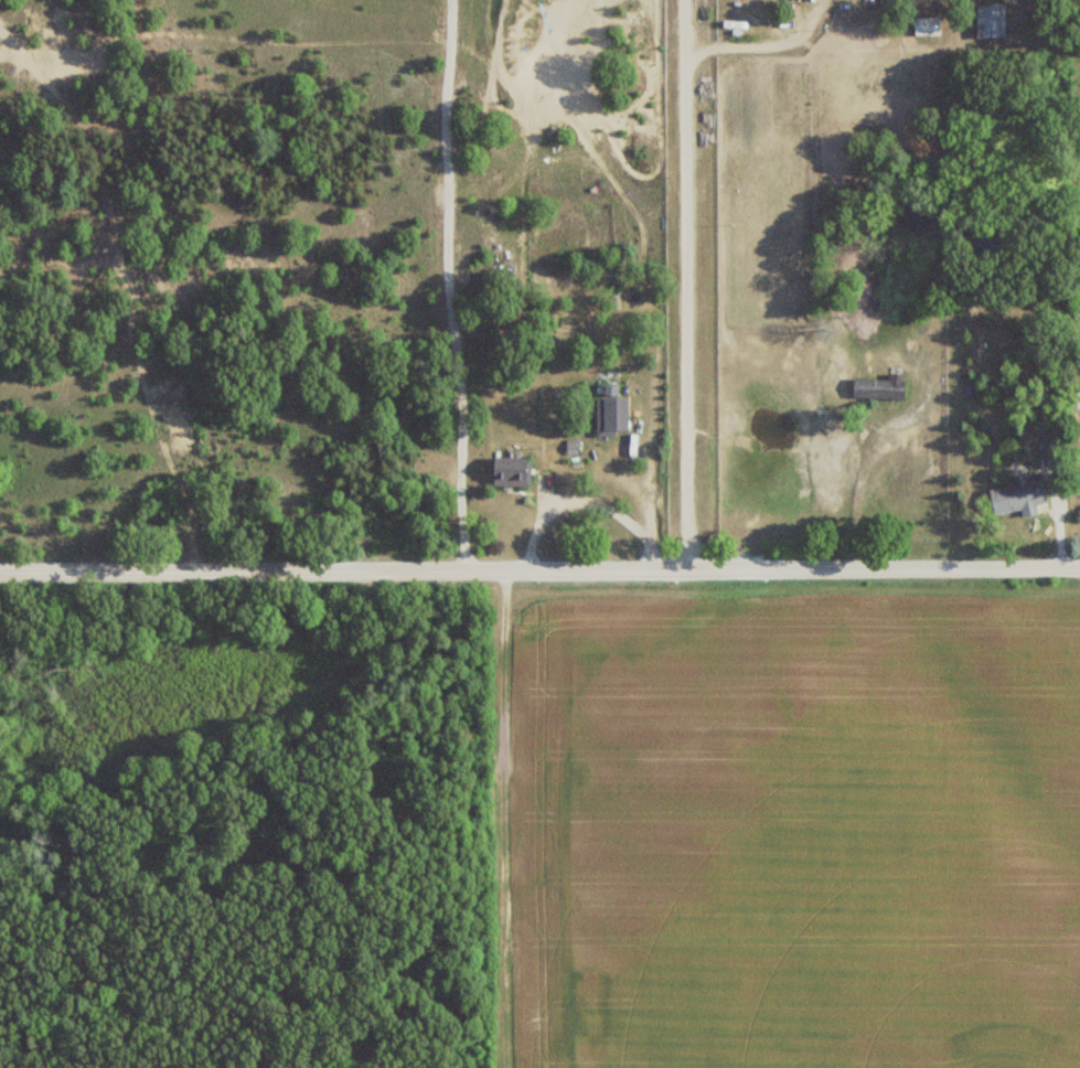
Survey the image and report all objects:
building: (988, 21)
building: (930, 26)
road: (766, 47)
road: (686, 285)
building: (878, 386)
building: (608, 410)
building: (1050, 447)
building: (506, 471)
road: (652, 472)
road: (859, 479)
building: (1017, 494)
road: (587, 503)
road: (1056, 520)
road: (539, 570)
road: (494, 820)

